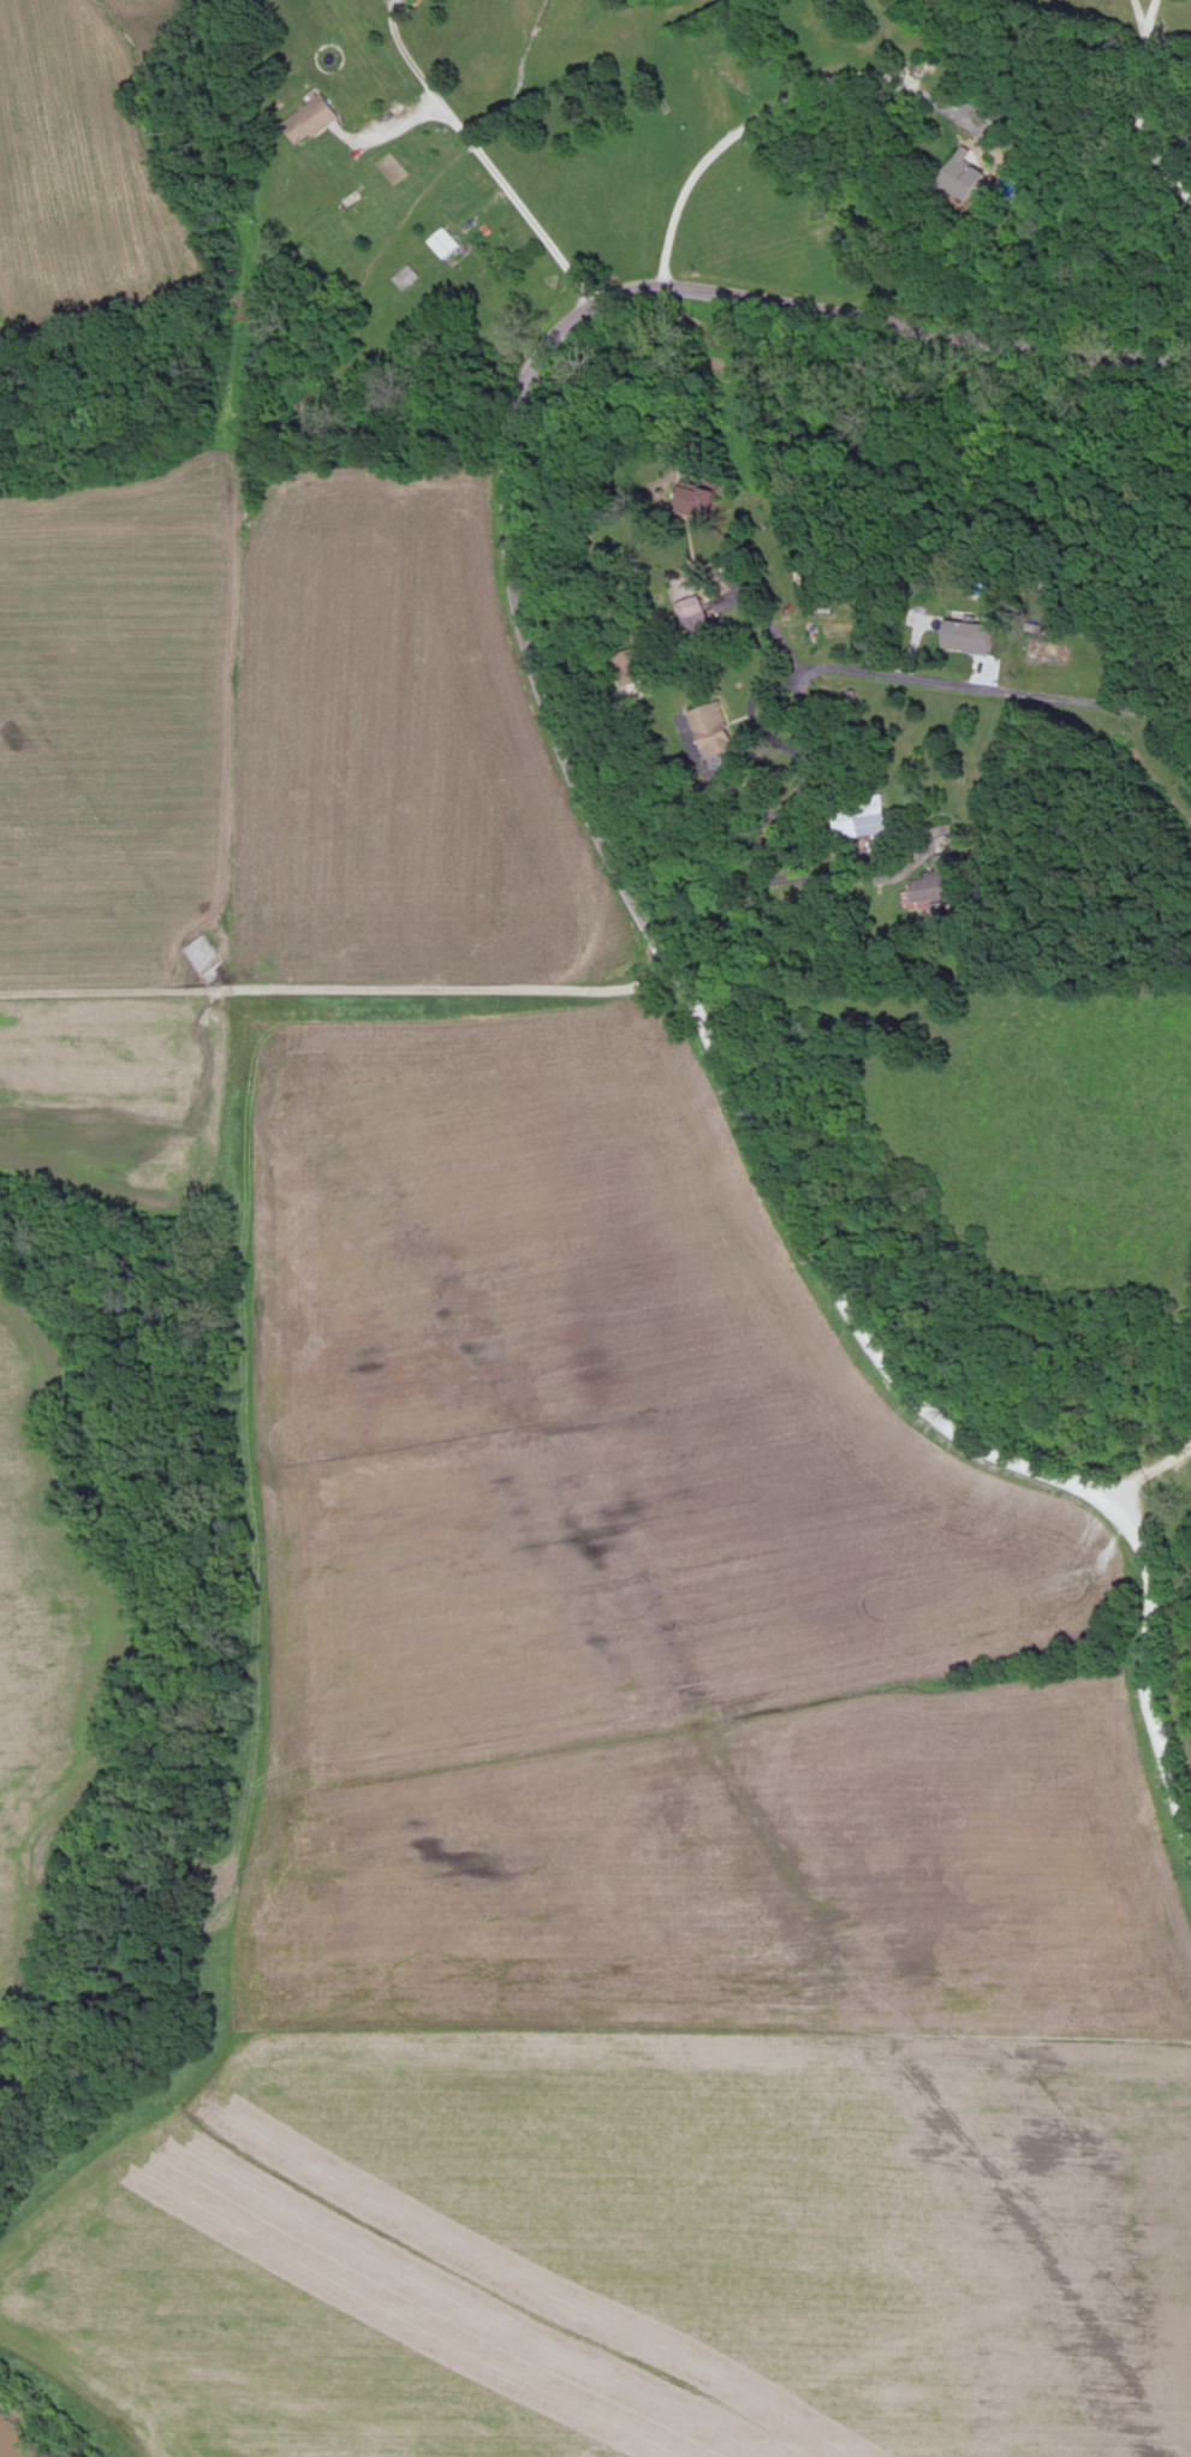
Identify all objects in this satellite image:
road: (776, 106)
road: (1136, 107)
building: (976, 108)
building: (310, 121)
road: (490, 168)
building: (964, 178)
building: (443, 244)
building: (691, 502)
road: (730, 599)
building: (695, 618)
road: (769, 620)
building: (969, 639)
building: (632, 670)
road: (816, 672)
building: (714, 732)
building: (859, 819)
road: (614, 861)
road: (790, 879)
building: (939, 882)
road: (439, 984)
road: (1144, 1465)

